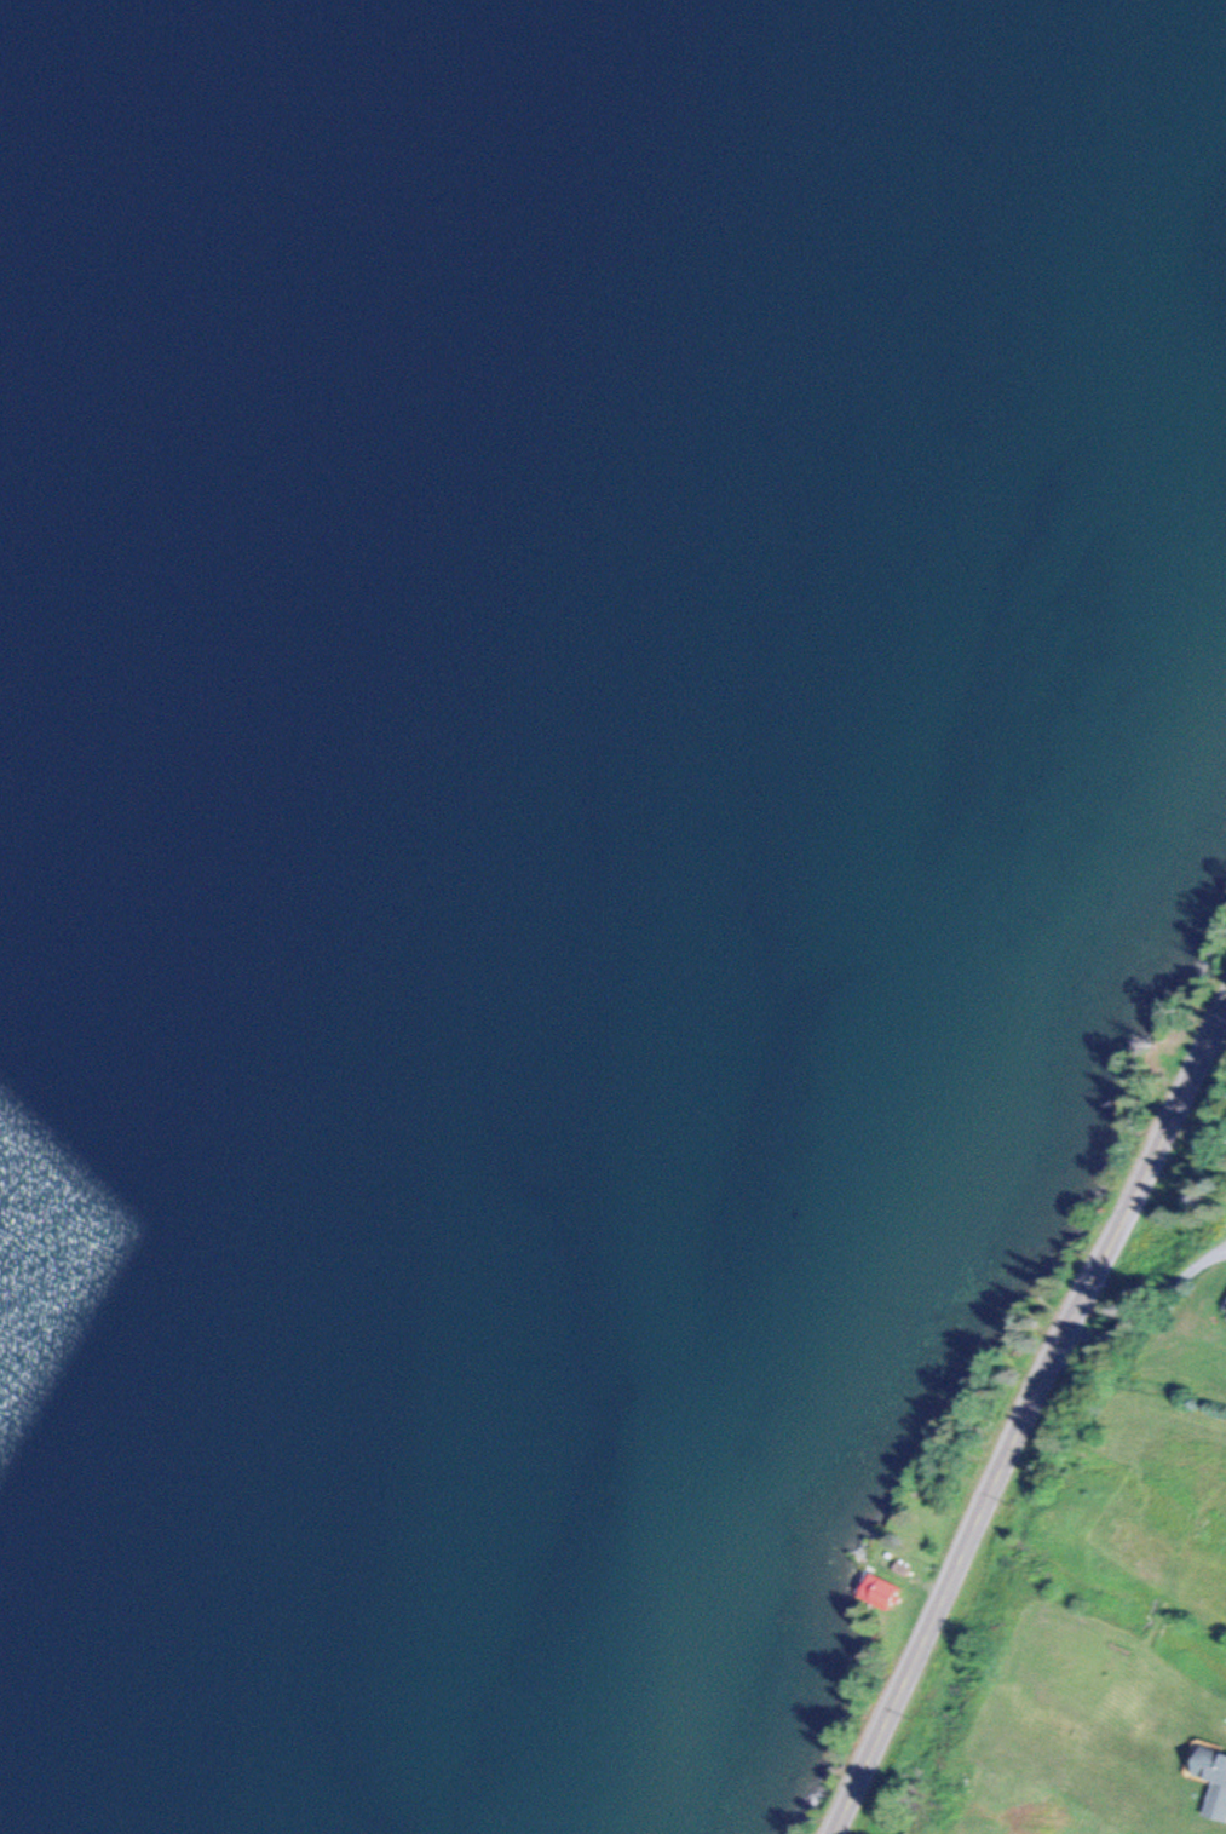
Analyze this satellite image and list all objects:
building: (1225, 1317)
road: (1025, 1421)
building: (900, 1569)
building: (879, 1591)
building: (1211, 1778)

